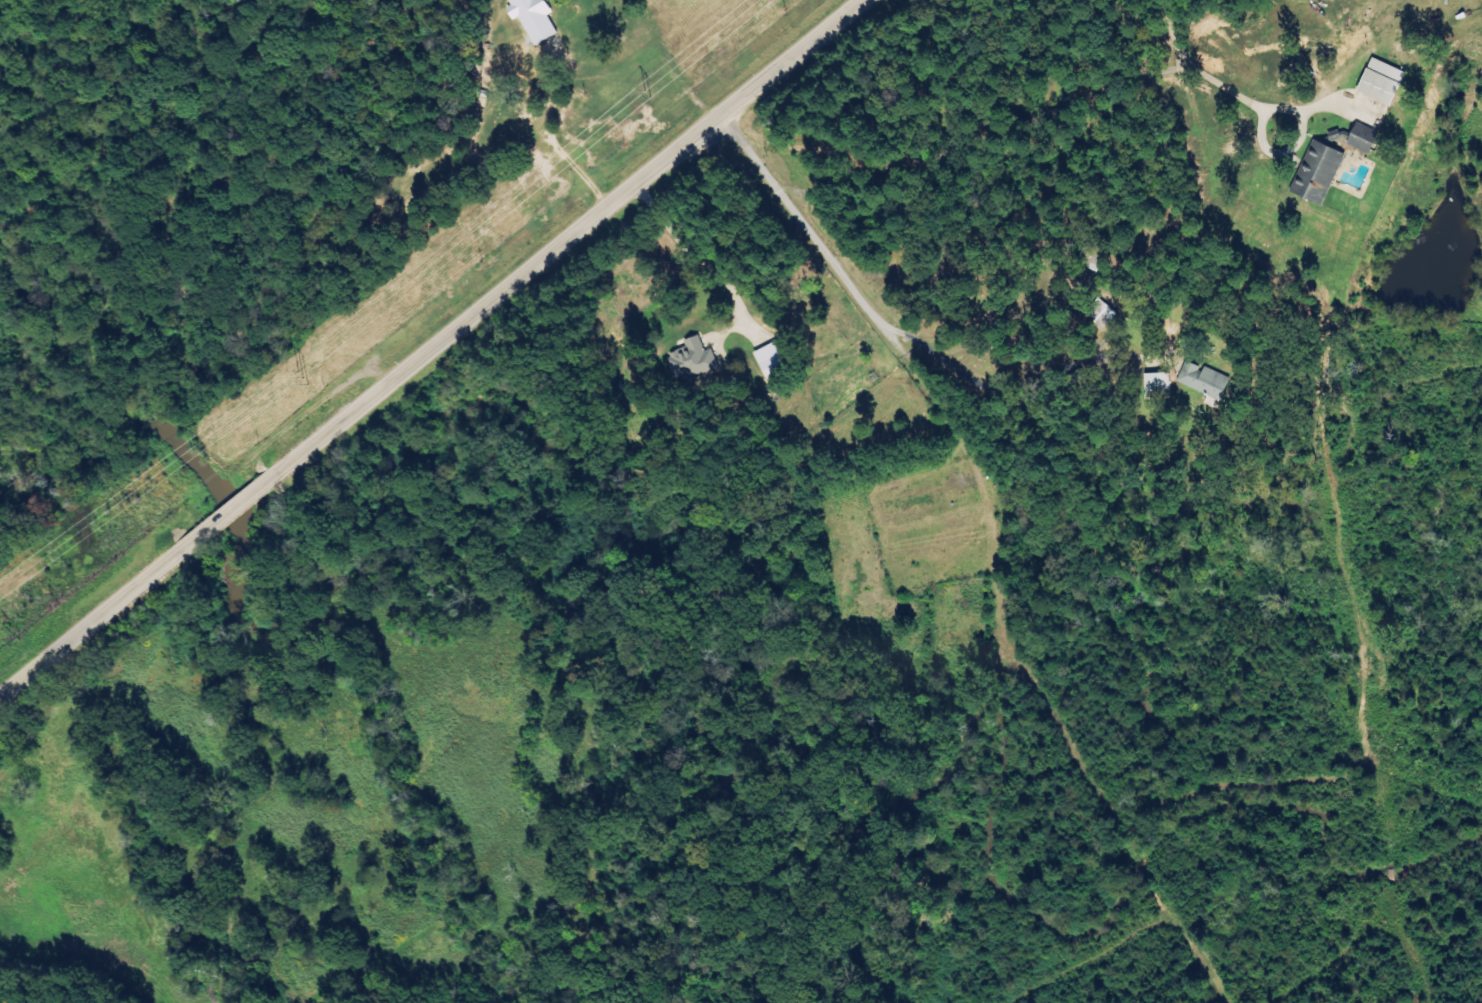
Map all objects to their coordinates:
building: (534, 18)
building: (1381, 80)
power tower: (654, 90)
building: (1362, 137)
building: (1318, 172)
road: (562, 238)
building: (773, 358)
building: (692, 359)
power tower: (296, 381)
building: (1206, 382)
building: (1158, 385)
road: (223, 513)
road: (89, 622)

